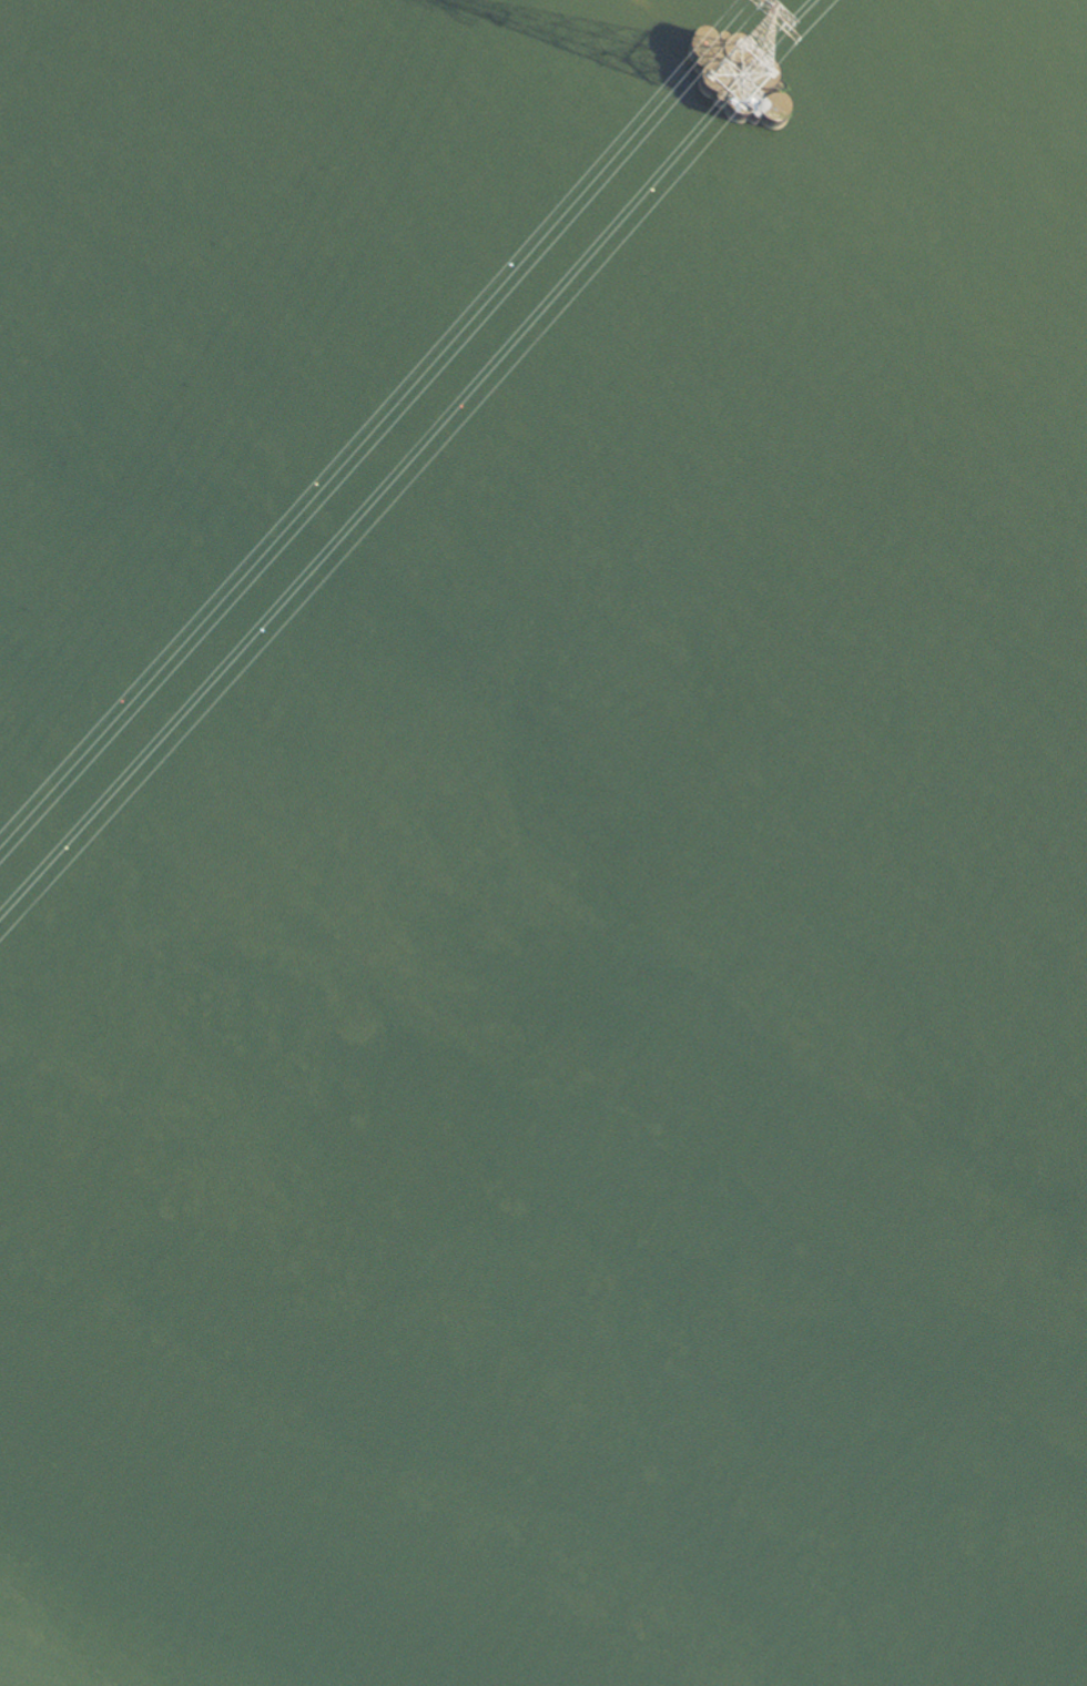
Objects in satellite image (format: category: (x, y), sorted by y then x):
power tower: (755, 87)
river: (543, 1013)

